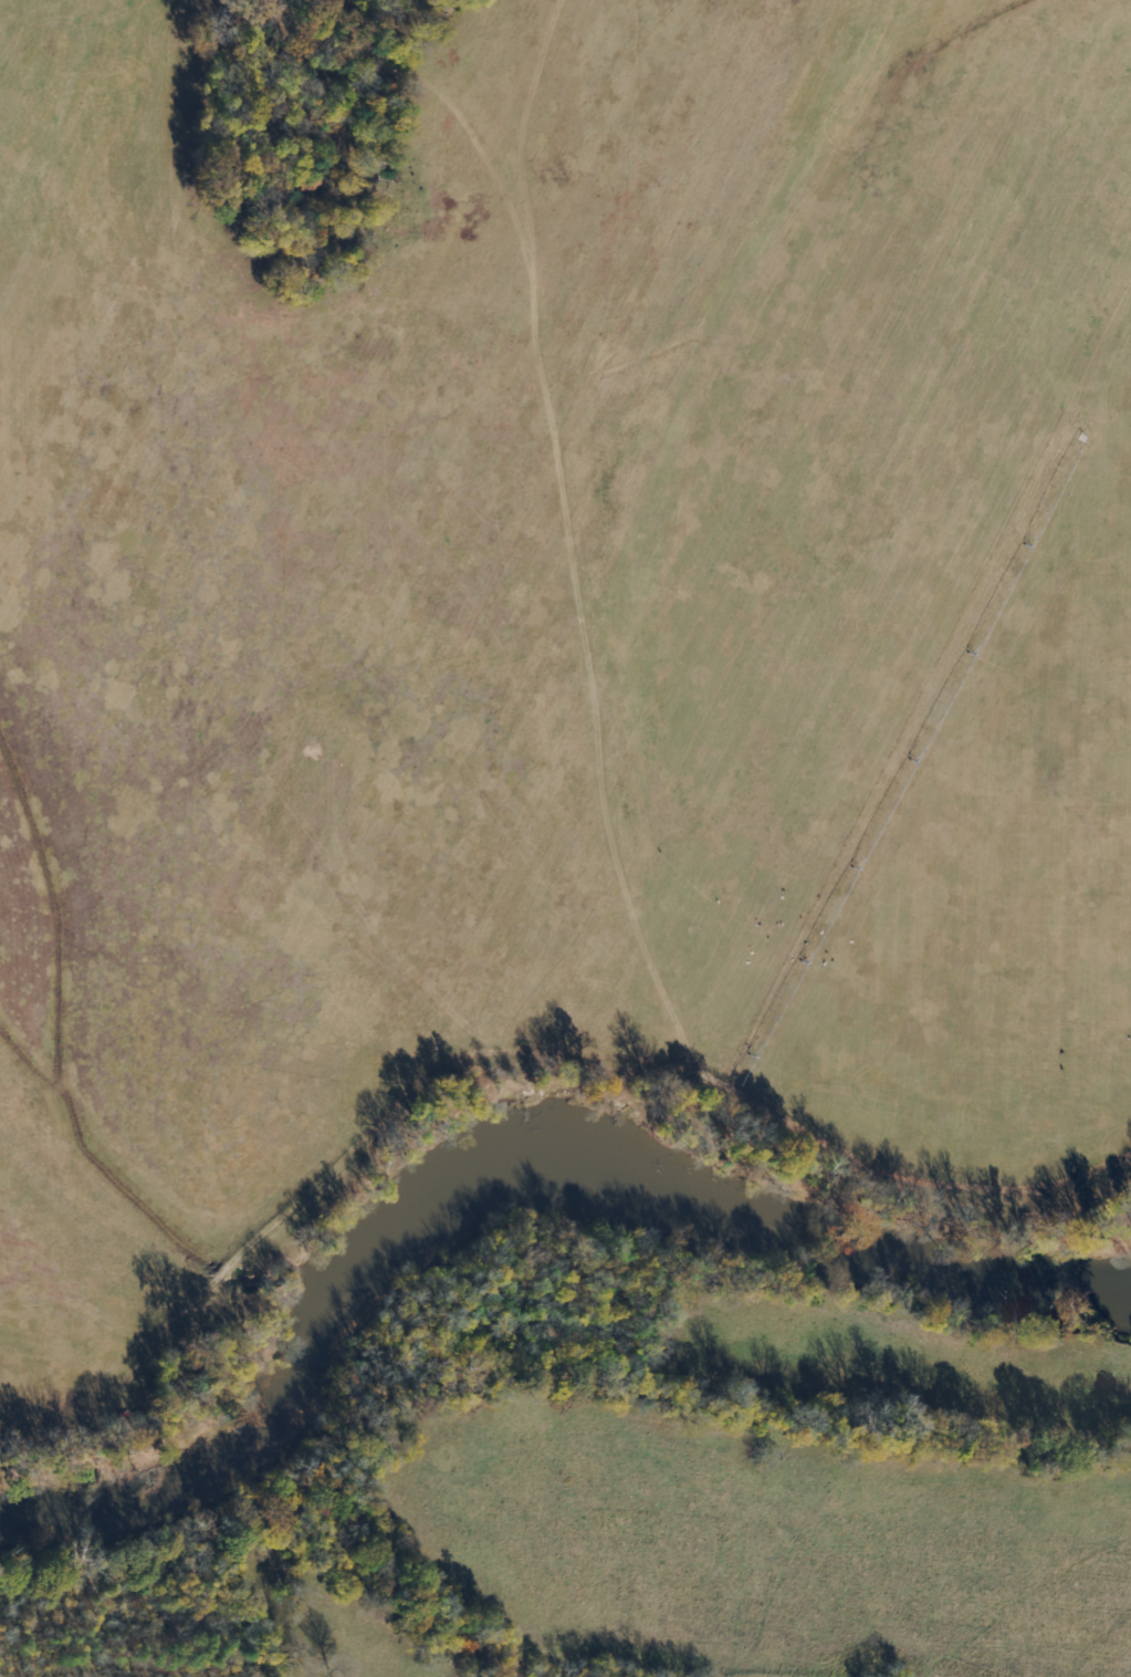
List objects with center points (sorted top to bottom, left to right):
river: (498, 1146)

